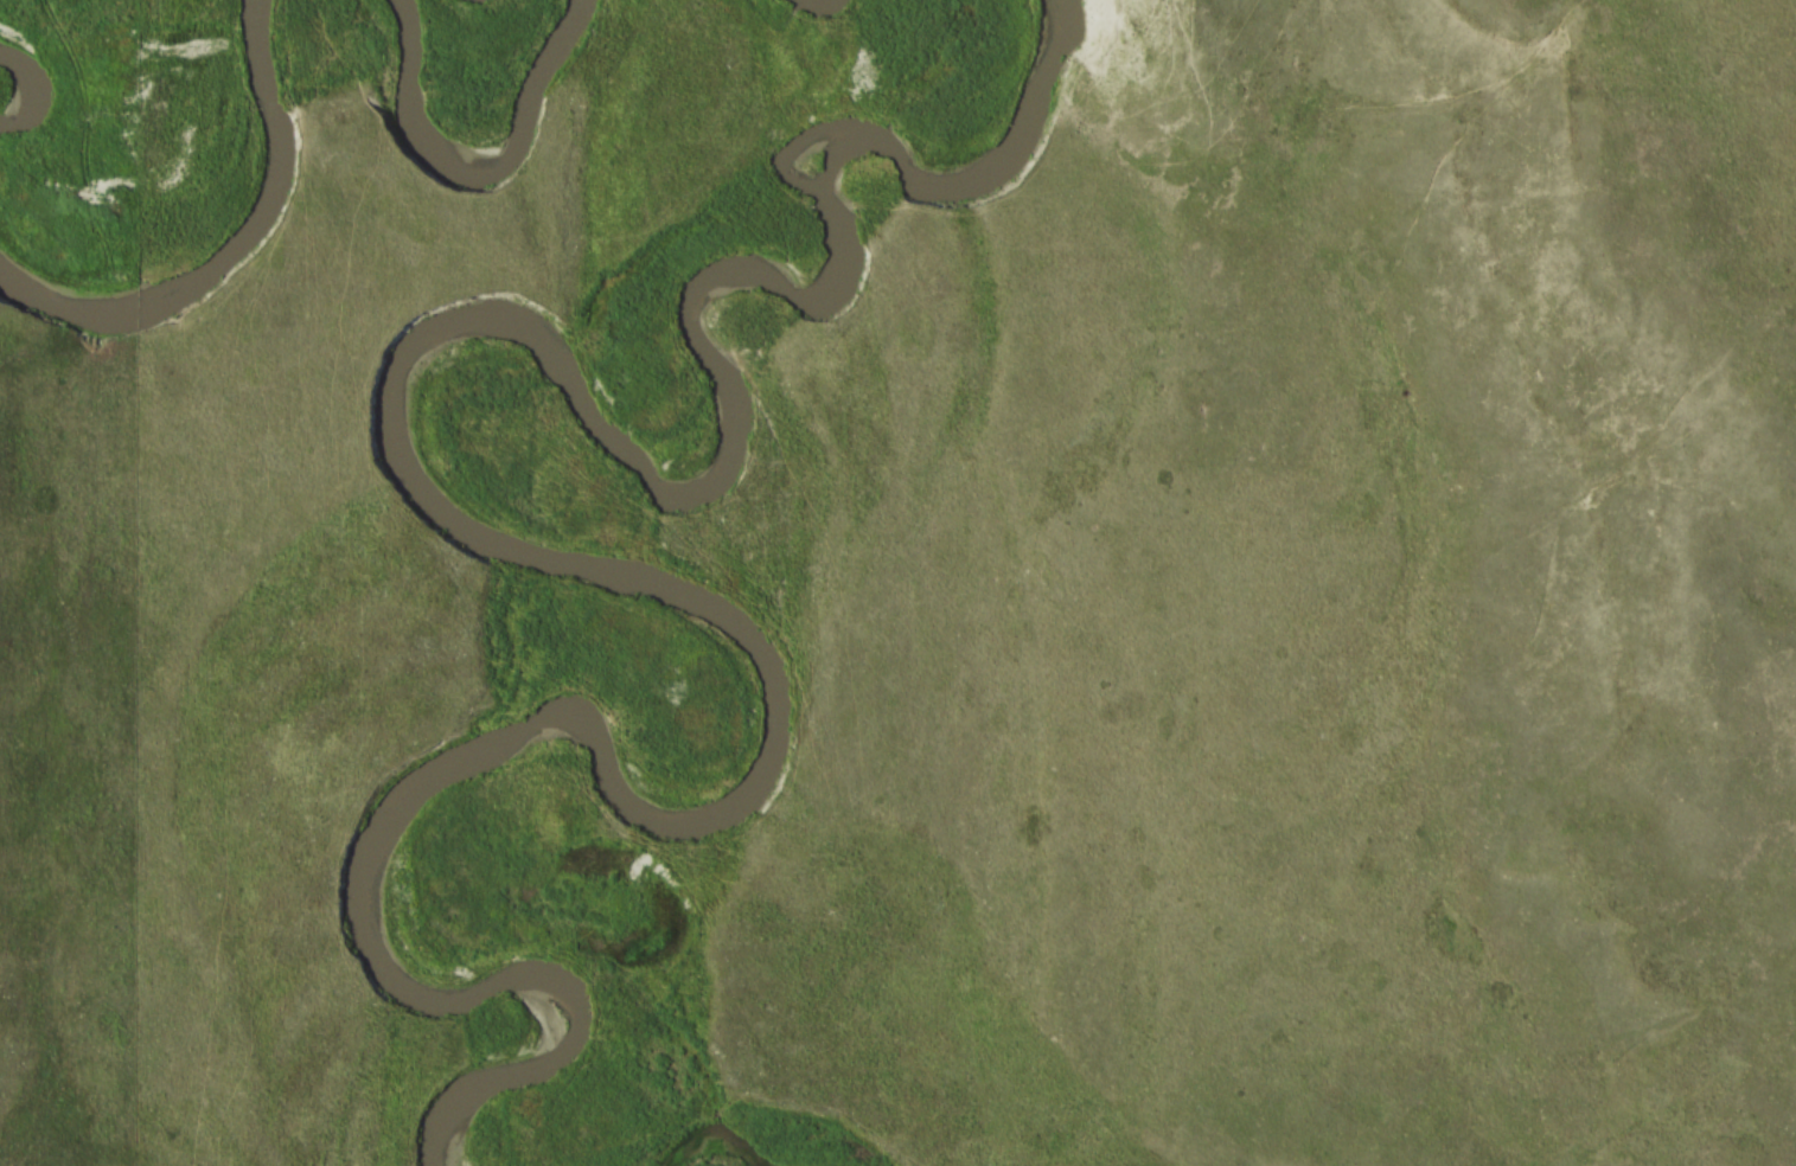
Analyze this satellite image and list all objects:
river: (792, 2)
river: (11, 52)
river: (461, 147)
river: (232, 246)
river: (475, 510)

